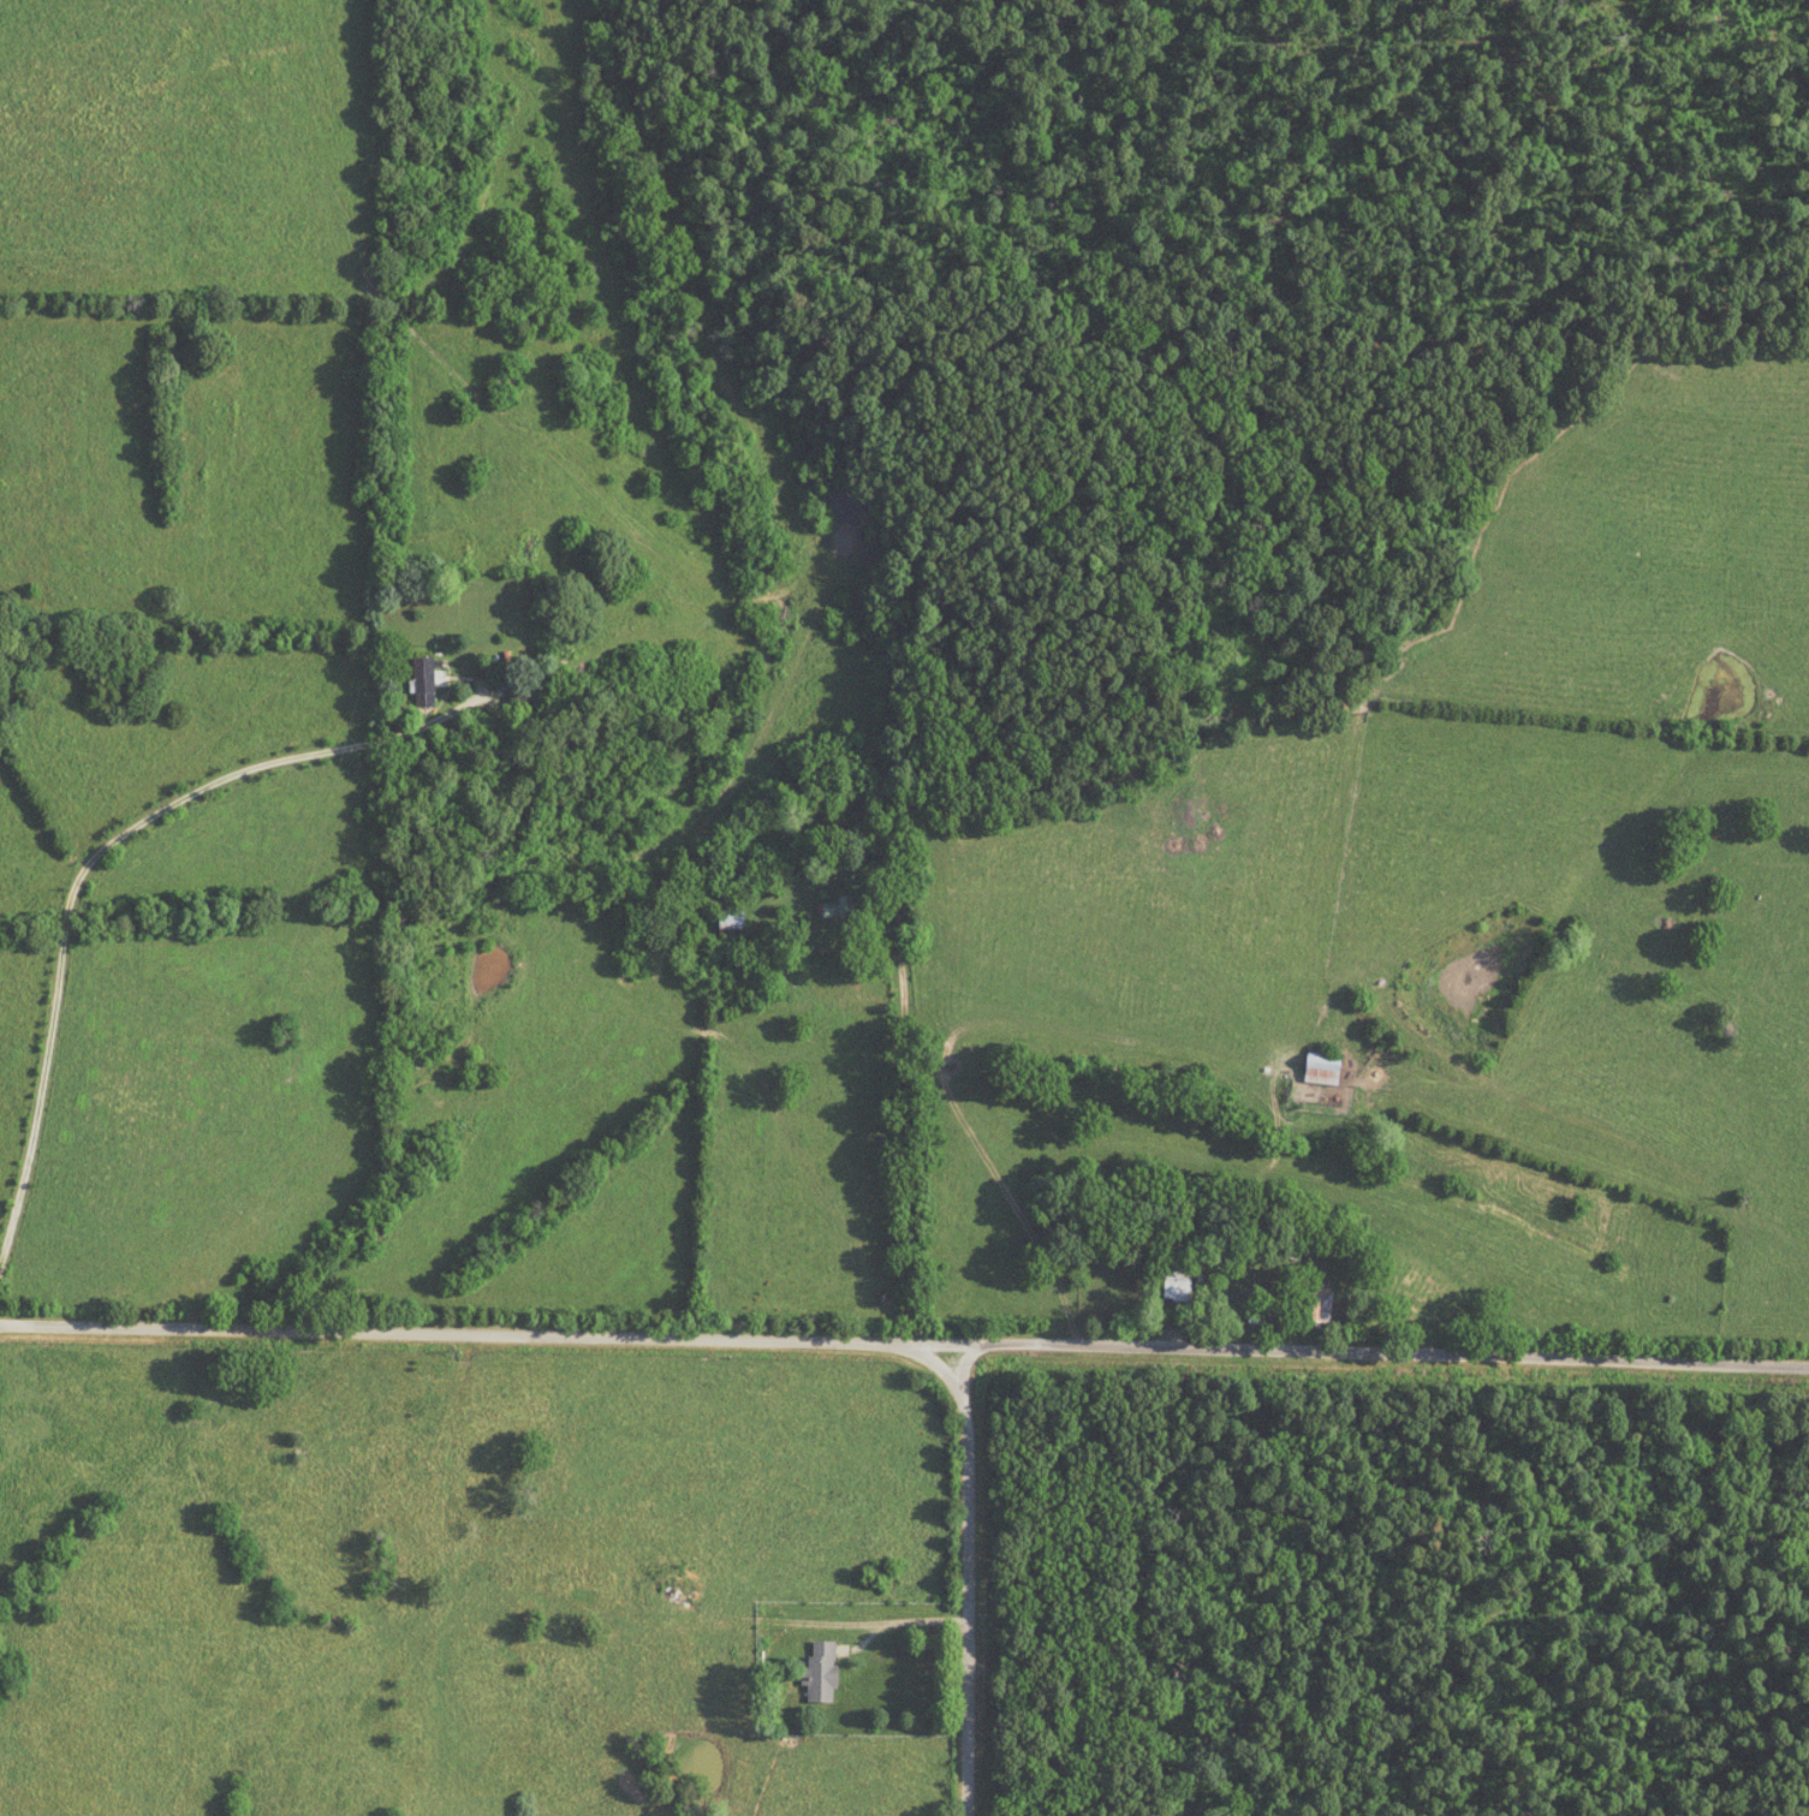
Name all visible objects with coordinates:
building: (422, 681)
building: (517, 697)
road: (89, 875)
building: (839, 907)
building: (728, 917)
road: (910, 1034)
building: (1320, 1068)
building: (1174, 1282)
building: (1315, 1309)
road: (904, 1341)
building: (493, 1454)
building: (552, 1573)
building: (606, 1573)
road: (975, 1579)
road: (891, 1627)
building: (820, 1671)

